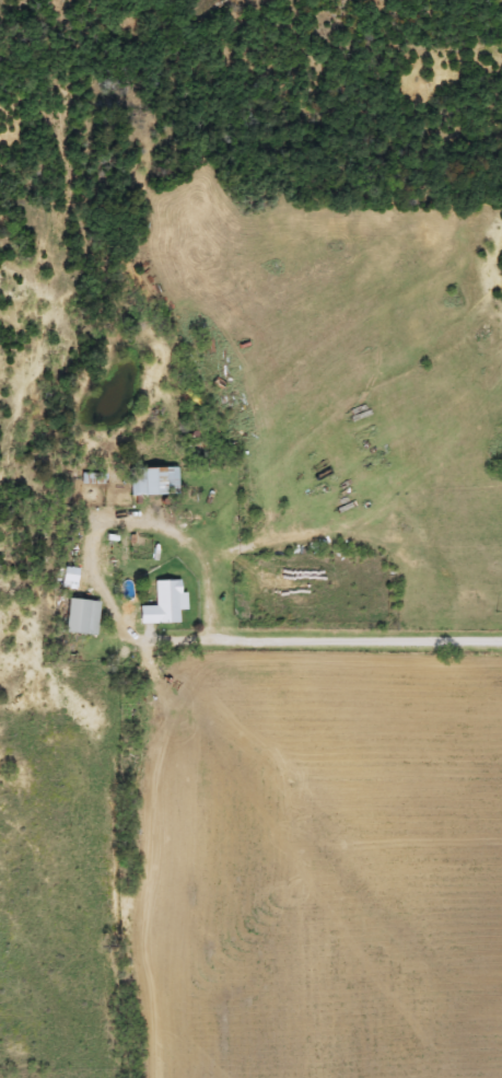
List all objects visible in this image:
building: (151, 480)
road: (128, 513)
building: (162, 603)
building: (79, 616)
road: (324, 635)

